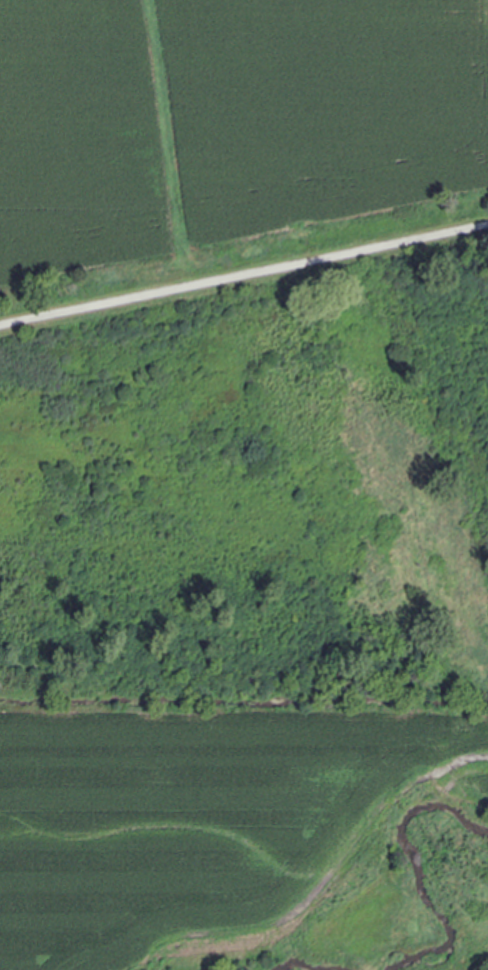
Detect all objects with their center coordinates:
road: (243, 273)

